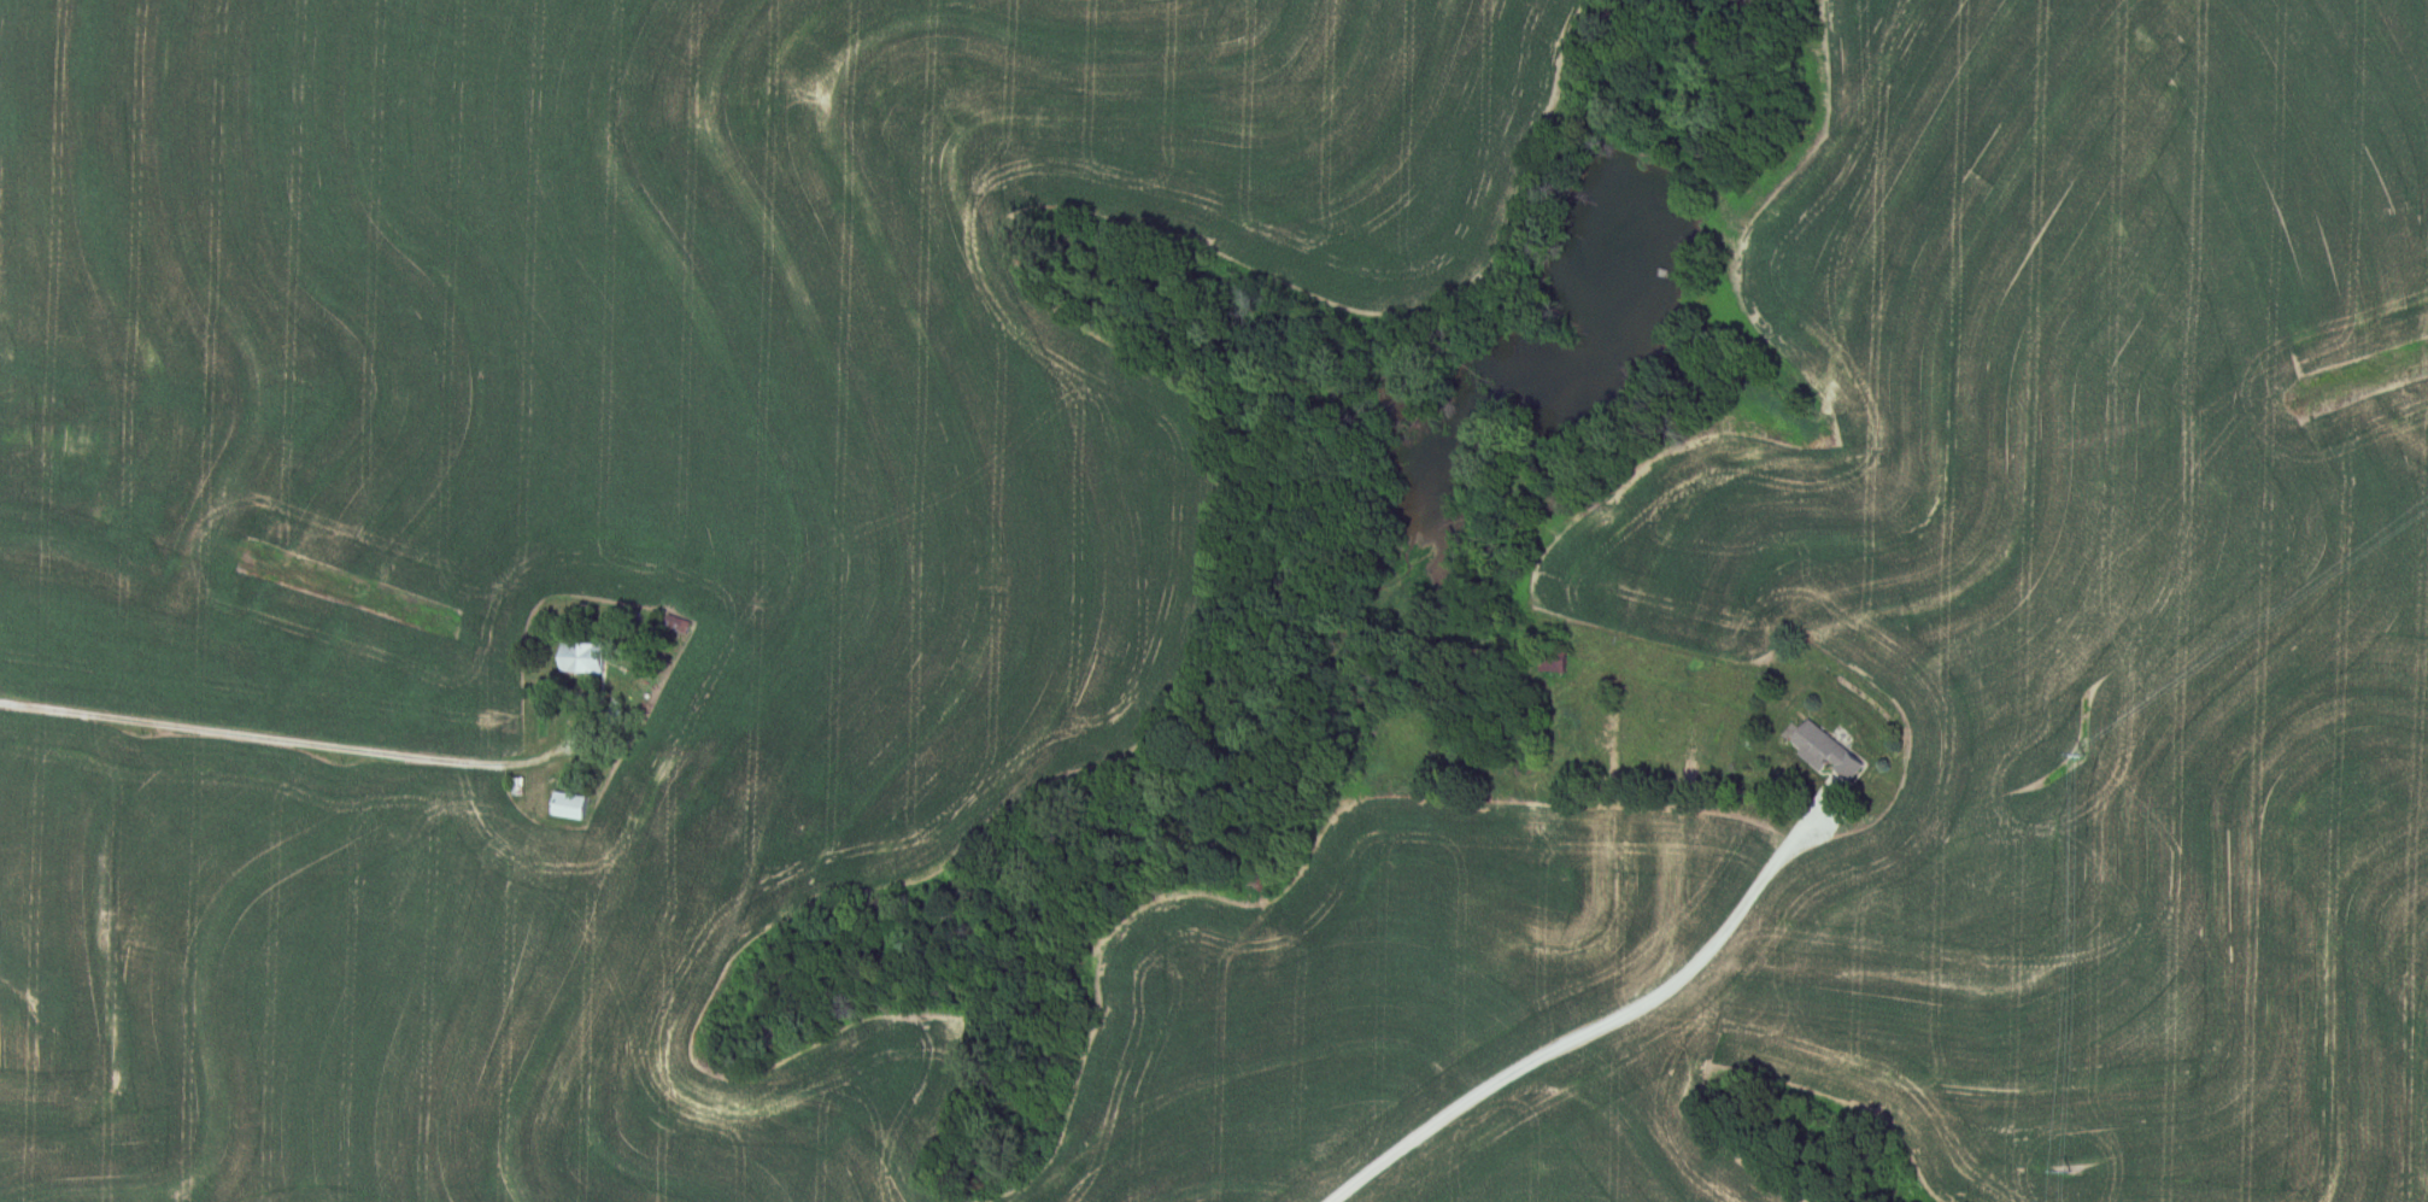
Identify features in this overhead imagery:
building: (577, 658)
building: (1548, 663)
road: (288, 744)
building: (1820, 750)
building: (635, 796)
building: (565, 805)
road: (1599, 1027)

